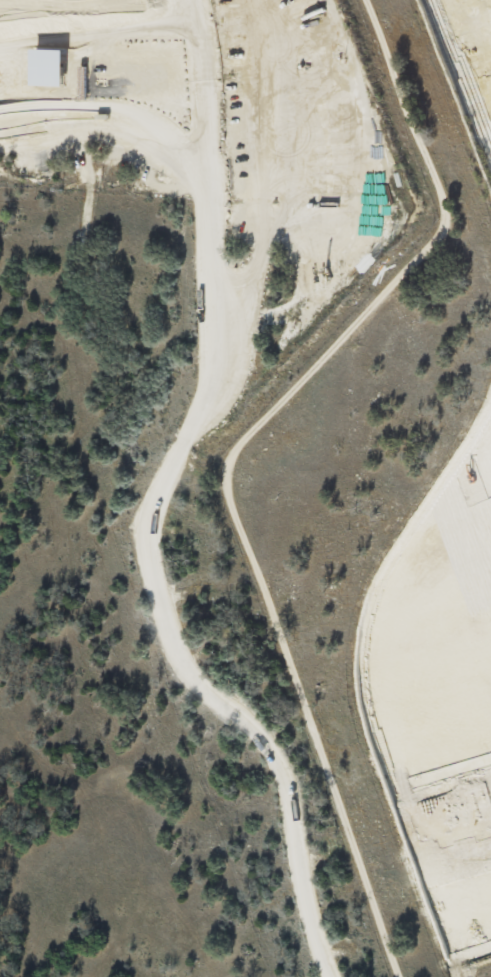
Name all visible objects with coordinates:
quarry: (468, 64)
building: (49, 68)
quarry: (180, 88)
road: (230, 456)
quarry: (474, 467)
road: (160, 601)

